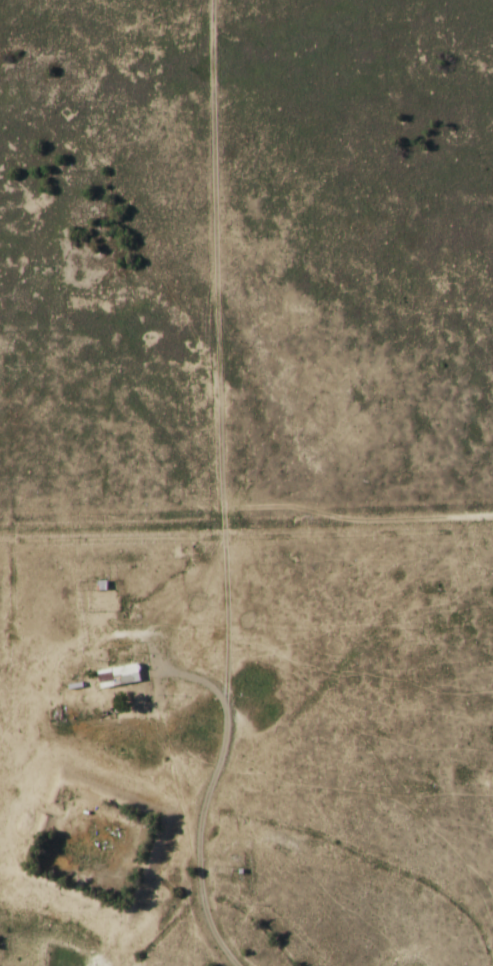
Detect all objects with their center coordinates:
building: (120, 674)

